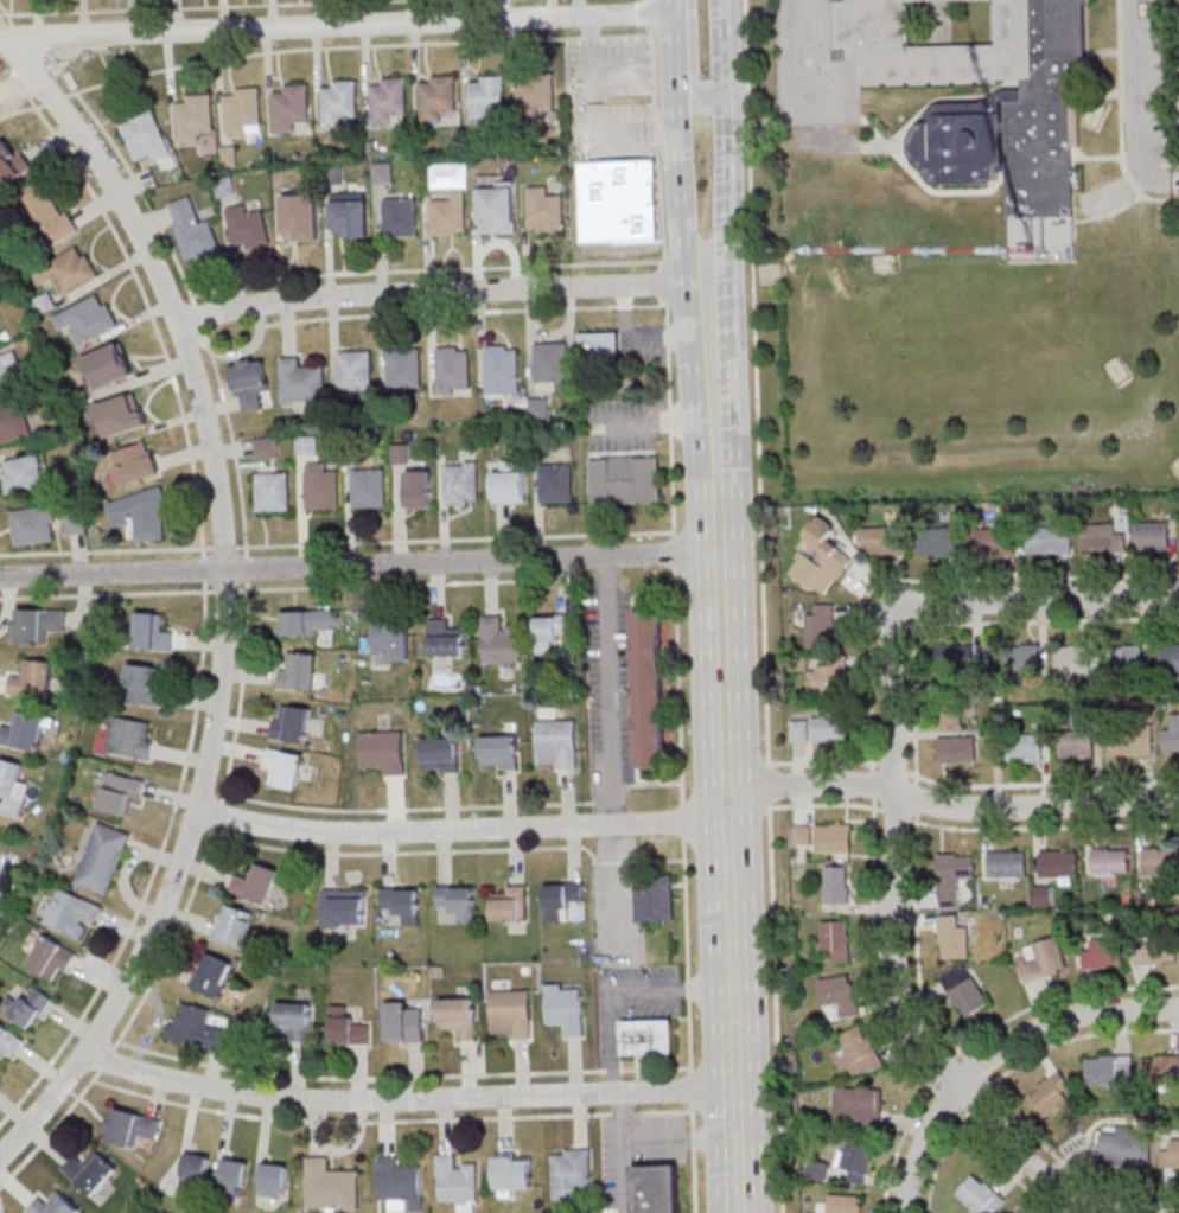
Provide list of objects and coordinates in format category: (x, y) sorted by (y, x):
road: (193, 6)
road: (7, 12)
road: (652, 14)
road: (338, 27)
road: (13, 30)
road: (676, 45)
road: (356, 46)
road: (804, 63)
road: (18, 88)
road: (26, 91)
building: (485, 95)
building: (535, 95)
building: (436, 96)
traffic signals: (727, 96)
road: (55, 98)
building: (388, 98)
building: (338, 101)
road: (1141, 101)
building: (291, 103)
road: (701, 103)
building: (1005, 108)
road: (21, 109)
building: (243, 110)
building: (193, 116)
road: (595, 121)
building: (142, 133)
road: (728, 143)
building: (12, 166)
building: (383, 172)
road: (1175, 180)
road: (681, 189)
building: (619, 200)
building: (497, 206)
building: (546, 209)
building: (46, 211)
building: (351, 213)
building: (448, 215)
building: (400, 216)
building: (299, 221)
building: (247, 228)
building: (193, 231)
building: (68, 270)
road: (664, 282)
road: (440, 293)
building: (44, 304)
building: (88, 318)
building: (0, 334)
building: (600, 344)
building: (550, 364)
building: (108, 365)
building: (502, 365)
building: (404, 368)
building: (355, 370)
building: (453, 370)
building: (9, 374)
building: (301, 381)
building: (251, 383)
building: (540, 407)
building: (122, 414)
building: (14, 423)
building: (307, 445)
building: (266, 447)
building: (135, 462)
building: (23, 473)
building: (624, 479)
building: (556, 481)
building: (463, 483)
building: (509, 484)
building: (321, 486)
building: (369, 487)
building: (420, 490)
building: (273, 491)
building: (140, 513)
building: (76, 523)
building: (34, 525)
building: (1152, 536)
building: (1102, 538)
building: (882, 541)
building: (1047, 541)
road: (336, 542)
building: (939, 542)
building: (994, 542)
road: (675, 553)
building: (826, 557)
road: (359, 567)
road: (1006, 577)
road: (223, 598)
road: (1035, 598)
road: (761, 606)
road: (204, 615)
building: (311, 623)
building: (37, 624)
building: (821, 626)
building: (552, 630)
building: (152, 631)
building: (445, 638)
building: (391, 639)
building: (501, 641)
building: (1026, 657)
building: (1171, 657)
building: (950, 658)
building: (1123, 658)
building: (1075, 659)
building: (298, 670)
building: (32, 678)
building: (824, 681)
building: (144, 683)
road: (678, 687)
building: (650, 689)
road: (608, 692)
road: (891, 698)
building: (949, 711)
building: (292, 722)
building: (829, 726)
building: (798, 729)
building: (24, 730)
building: (1171, 735)
building: (132, 736)
building: (1132, 742)
building: (557, 743)
building: (1076, 743)
road: (726, 747)
building: (1026, 747)
building: (956, 749)
building: (383, 751)
building: (501, 752)
building: (439, 753)
building: (285, 767)
road: (811, 783)
building: (12, 786)
building: (120, 793)
road: (1035, 805)
road: (461, 831)
building: (0, 834)
building: (802, 835)
building: (834, 837)
building: (103, 857)
building: (1110, 860)
building: (1158, 860)
building: (1007, 864)
building: (1058, 864)
building: (954, 881)
building: (256, 882)
building: (836, 885)
road: (614, 894)
building: (1043, 895)
building: (562, 898)
building: (655, 898)
building: (457, 900)
building: (401, 902)
building: (511, 904)
building: (344, 907)
building: (71, 911)
building: (234, 925)
building: (954, 937)
building: (835, 939)
building: (1155, 950)
building: (1103, 953)
building: (49, 956)
building: (1045, 962)
building: (211, 975)
road: (622, 990)
building: (964, 990)
building: (840, 994)
building: (26, 1005)
building: (566, 1008)
building: (511, 1014)
building: (459, 1017)
road: (1059, 1019)
building: (294, 1020)
building: (403, 1022)
building: (199, 1027)
building: (348, 1027)
building: (649, 1036)
building: (7, 1042)
building: (858, 1052)
road: (947, 1067)
building: (1107, 1068)
building: (1160, 1068)
building: (1051, 1097)
road: (408, 1102)
building: (856, 1107)
building: (130, 1128)
road: (682, 1141)
road: (925, 1145)
building: (1126, 1148)
road: (623, 1153)
building: (1170, 1154)
building: (855, 1161)
building: (196, 1167)
building: (817, 1170)
building: (90, 1171)
building: (515, 1171)
building: (571, 1173)
building: (234, 1175)
building: (274, 1180)
building: (457, 1182)
building: (331, 1185)
building: (400, 1185)
building: (657, 1188)
building: (980, 1195)
building: (843, 1204)
building: (52, 1205)

